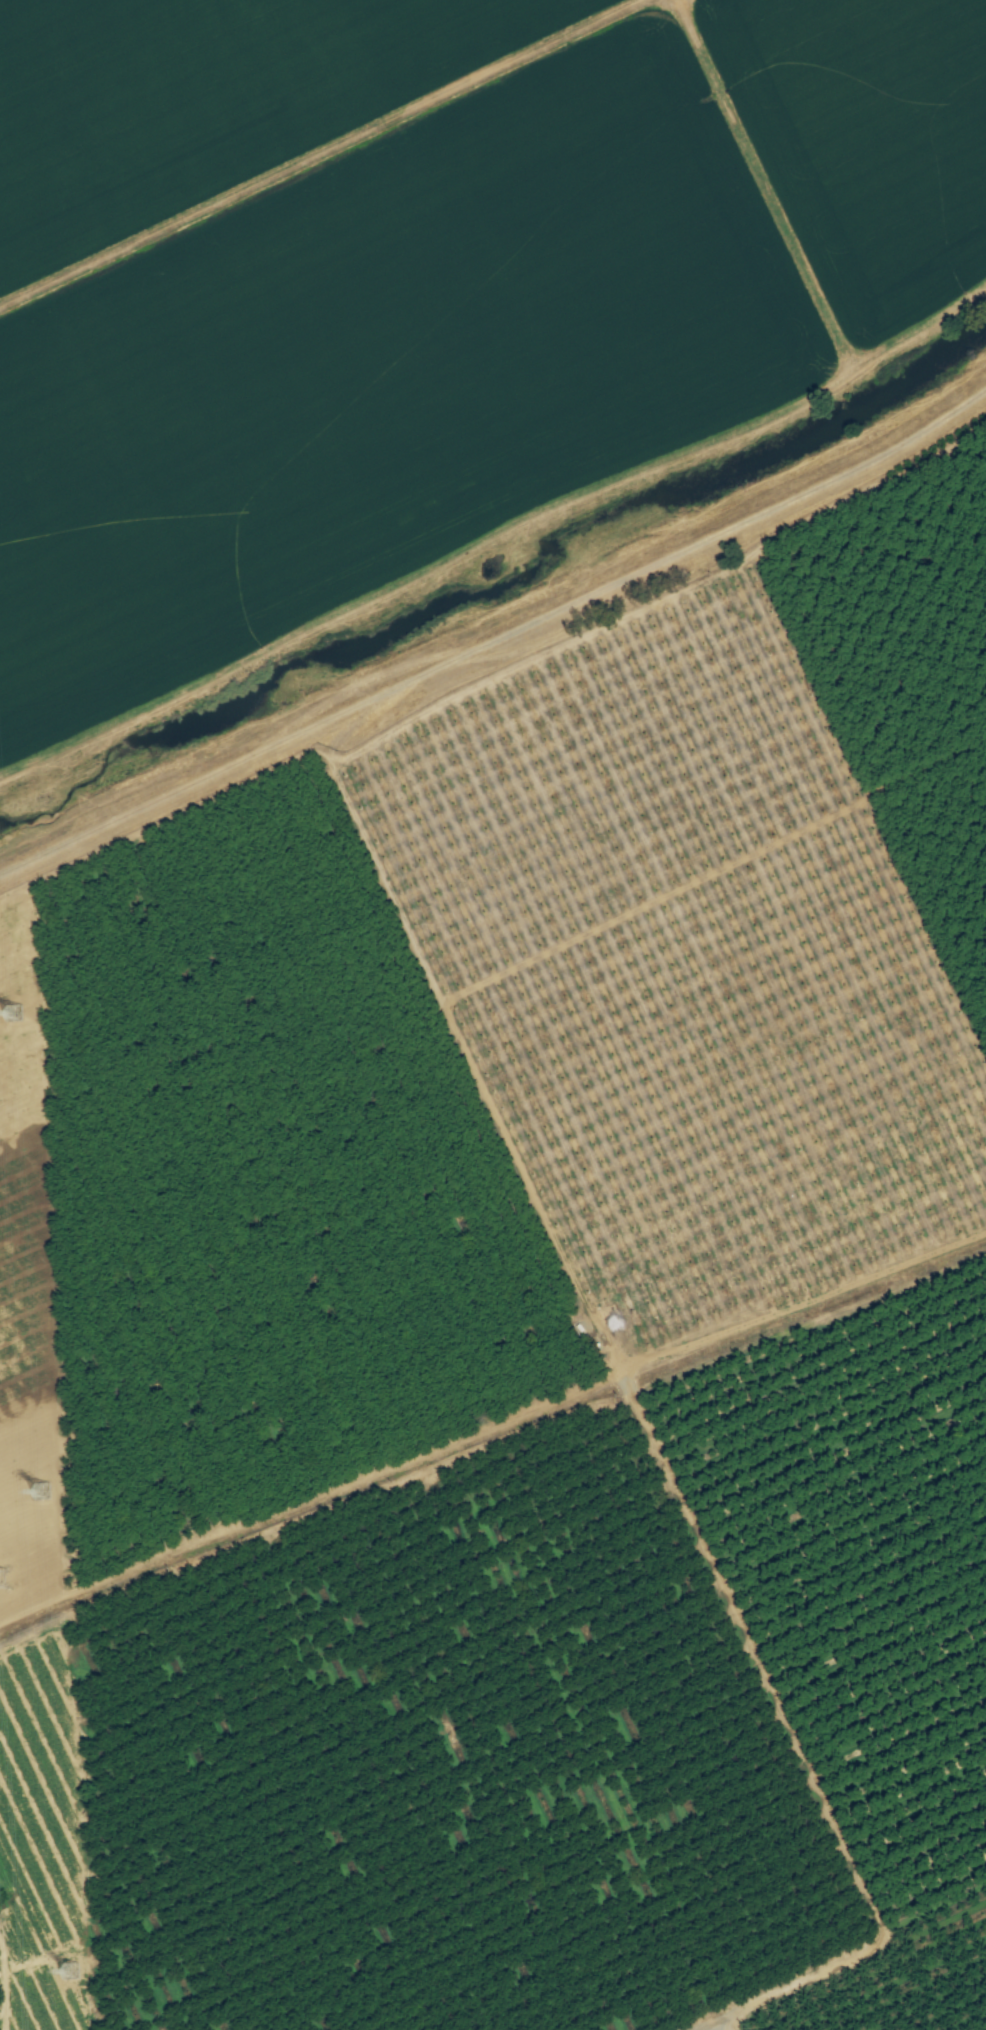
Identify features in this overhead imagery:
power tower: (14, 1014)
power tower: (45, 1493)
power tower: (0, 1581)
power tower: (74, 1973)

